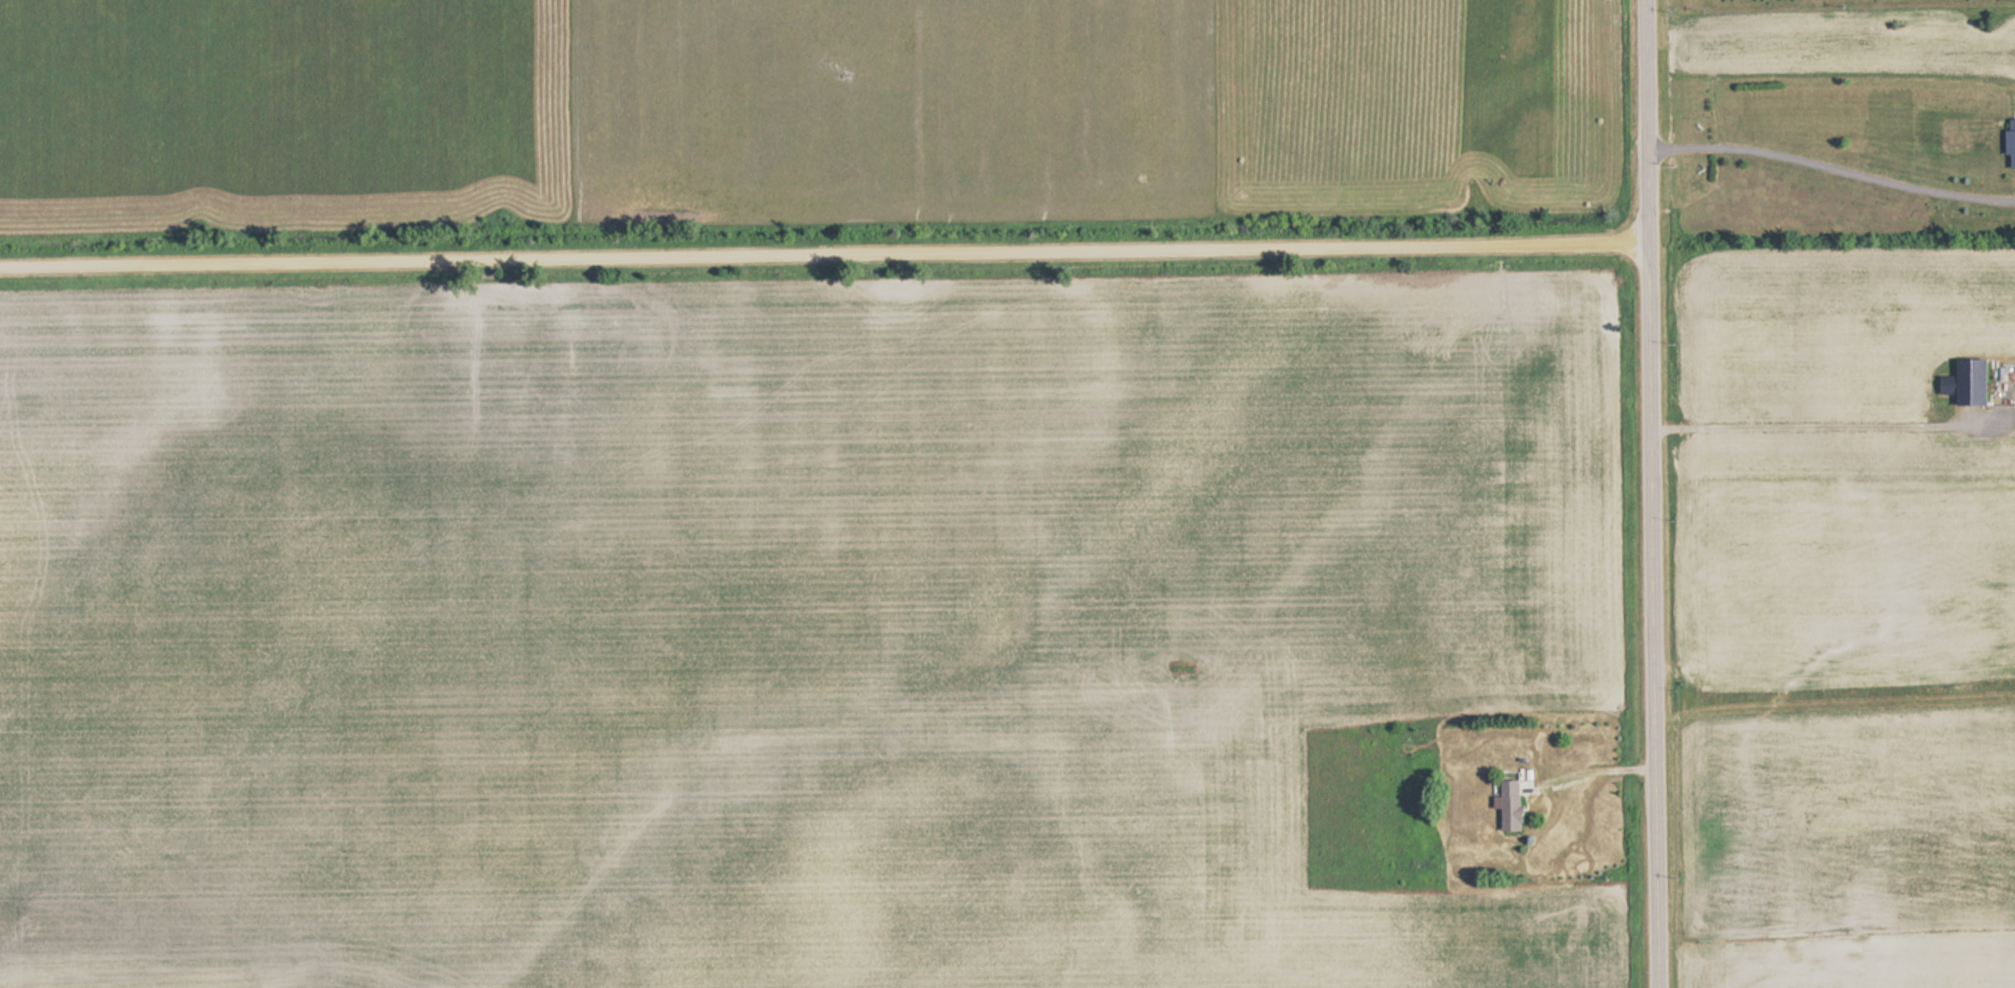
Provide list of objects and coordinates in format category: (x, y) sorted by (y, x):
building: (2009, 142)
road: (824, 258)
road: (1653, 494)
building: (1507, 801)

